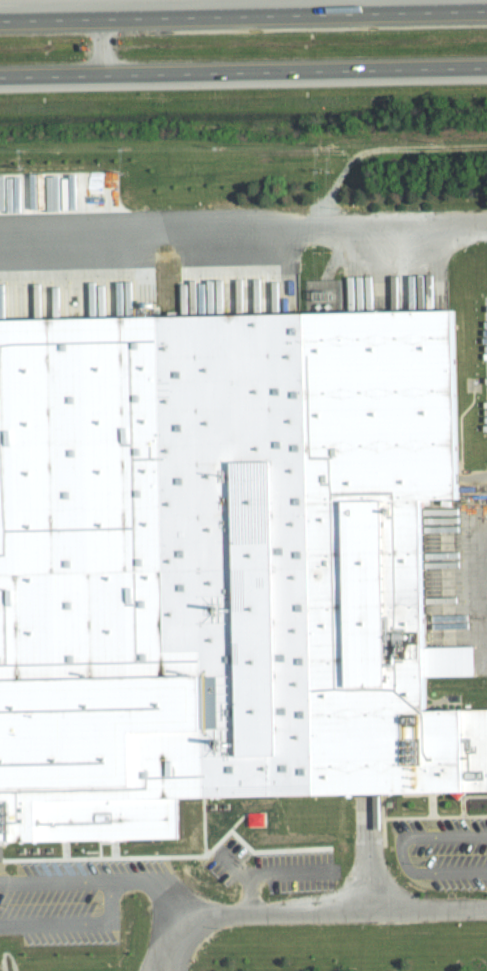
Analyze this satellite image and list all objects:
road: (243, 15)
road: (101, 46)
road: (243, 72)
road: (301, 224)
road: (59, 245)
building: (313, 547)
road: (402, 854)
road: (105, 880)
road: (42, 881)
road: (17, 882)
road: (153, 886)
road: (334, 913)
road: (48, 923)
road: (170, 946)

